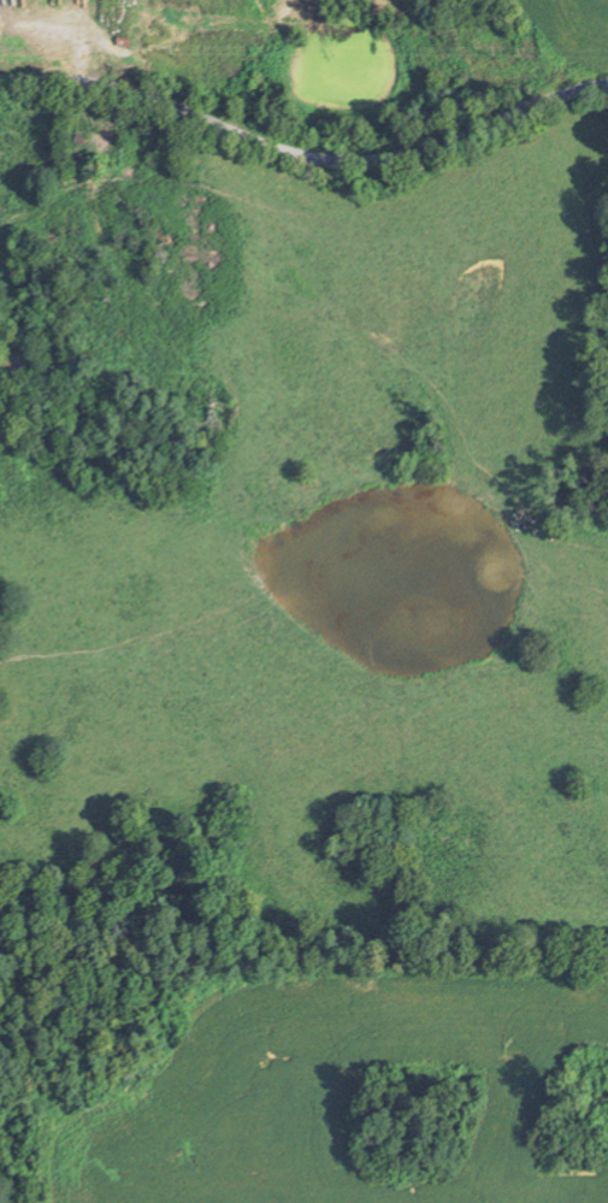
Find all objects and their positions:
road: (303, 152)

